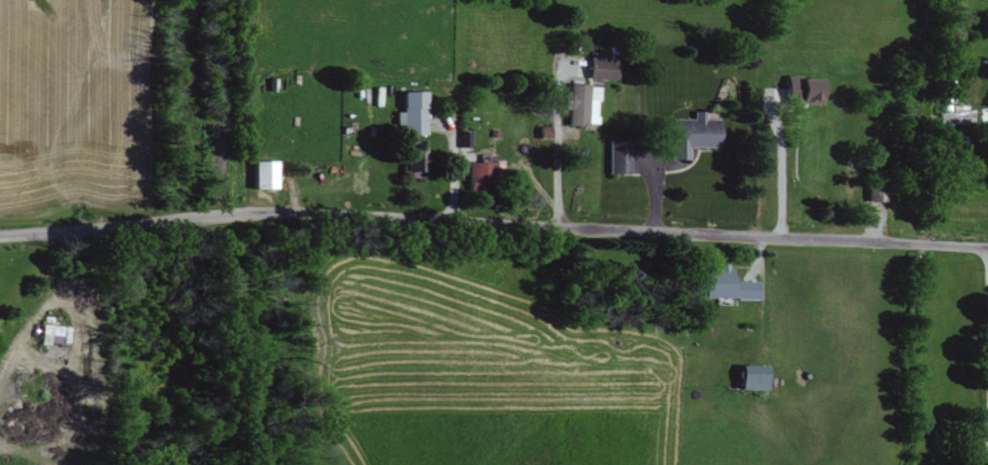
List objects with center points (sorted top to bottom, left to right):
building: (604, 69)
building: (806, 89)
building: (583, 105)
building: (414, 113)
building: (695, 134)
road: (560, 151)
building: (620, 156)
building: (418, 164)
road: (780, 170)
building: (267, 174)
building: (482, 176)
building: (874, 193)
road: (493, 224)
building: (729, 285)
building: (55, 334)
road: (987, 354)
building: (755, 378)

